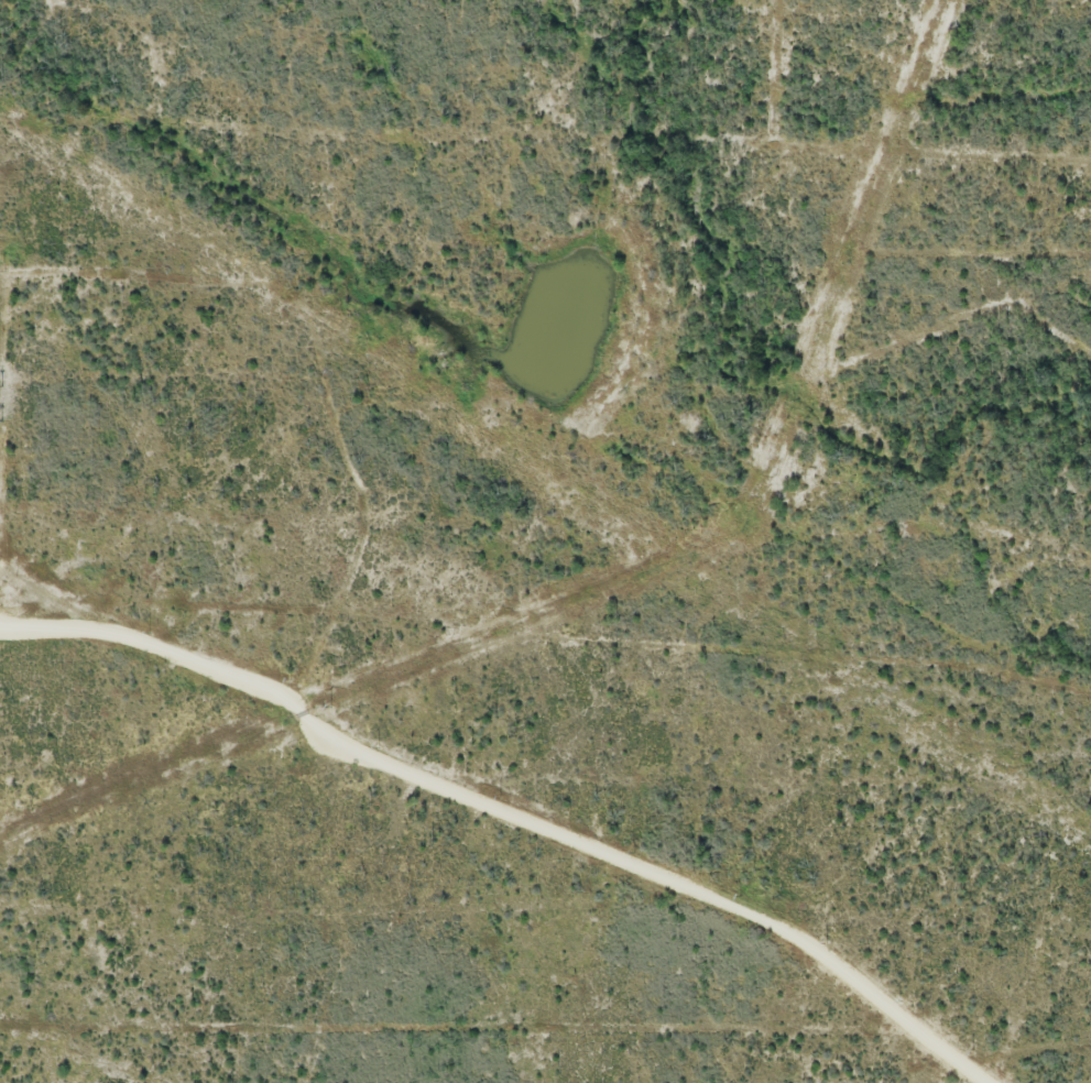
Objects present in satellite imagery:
road: (506, 816)

